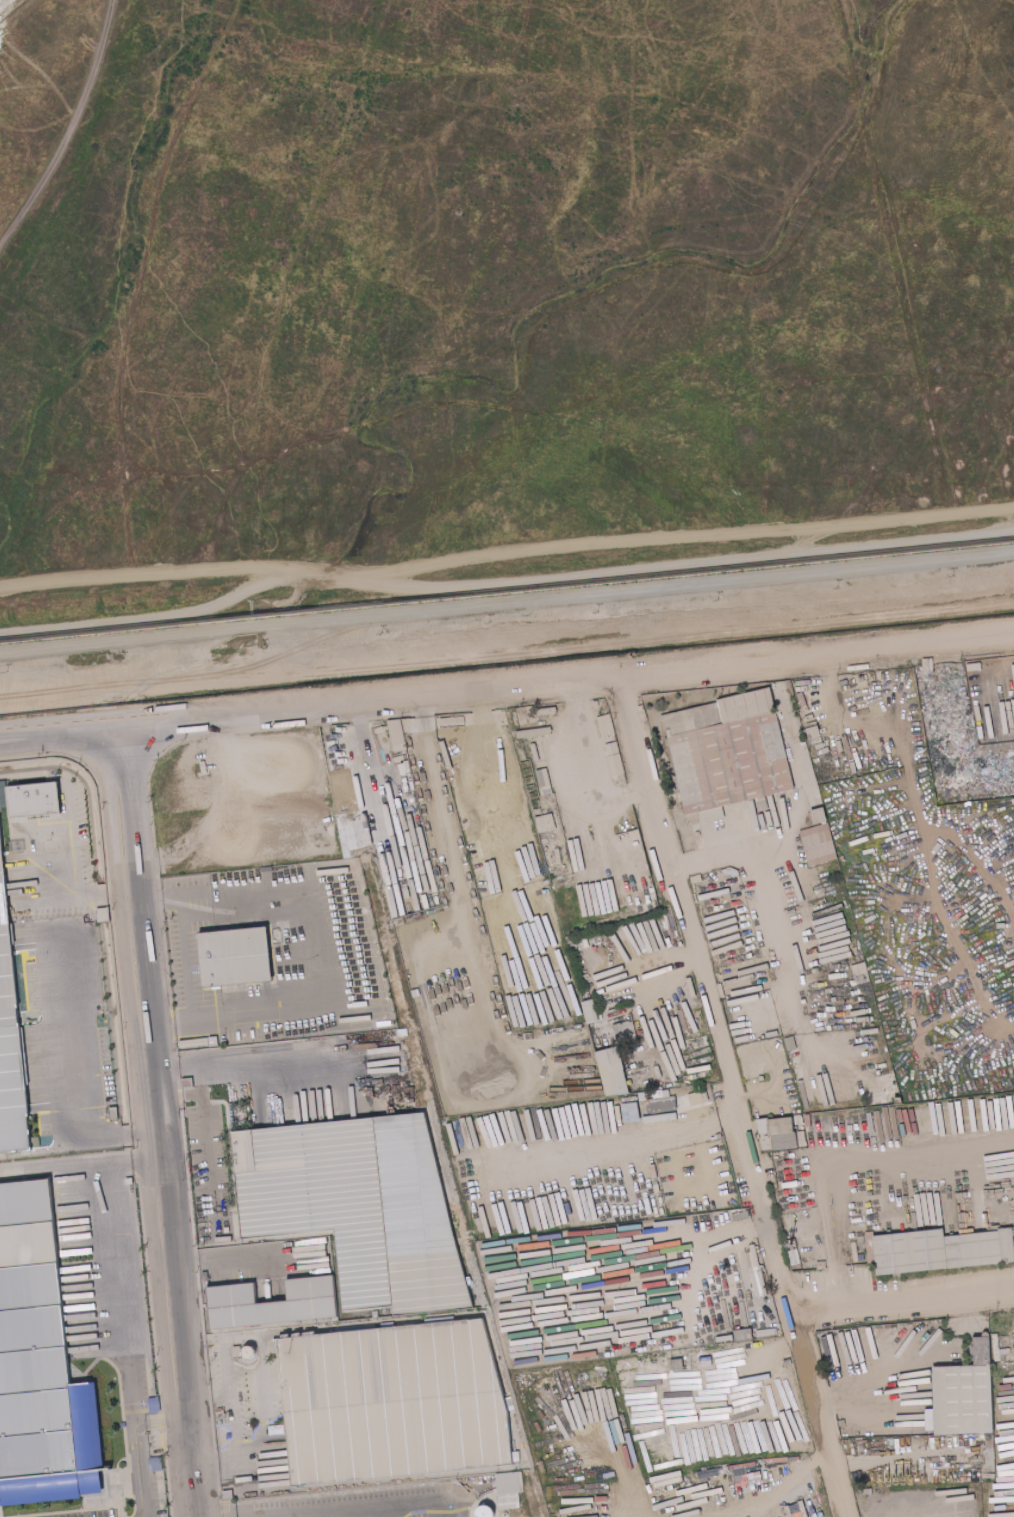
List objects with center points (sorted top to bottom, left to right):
road: (65, 130)
road: (462, 209)
road: (506, 553)
road: (670, 565)
road: (507, 599)
road: (166, 616)
road: (507, 651)
road: (572, 681)
road: (65, 736)
building: (401, 755)
building: (729, 780)
building: (530, 784)
building: (413, 798)
building: (35, 800)
building: (762, 803)
road: (137, 813)
building: (714, 813)
building: (539, 815)
building: (819, 815)
building: (546, 823)
building: (622, 827)
building: (698, 833)
building: (445, 838)
building: (819, 844)
road: (46, 854)
road: (71, 866)
building: (267, 868)
road: (232, 894)
road: (152, 897)
building: (793, 910)
building: (104, 913)
building: (598, 938)
building: (579, 941)
road: (310, 949)
building: (236, 954)
parking lot: (184, 957)
road: (187, 959)
building: (405, 959)
building: (861, 973)
building: (852, 982)
road: (706, 994)
building: (776, 994)
building: (591, 1011)
building: (41, 1013)
building: (621, 1014)
road: (245, 1015)
building: (600, 1015)
building: (10, 1025)
road: (150, 1025)
building: (626, 1032)
building: (818, 1034)
building: (213, 1041)
building: (791, 1043)
road: (79, 1065)
road: (250, 1067)
building: (772, 1067)
road: (187, 1071)
building: (613, 1071)
road: (155, 1073)
building: (186, 1083)
building: (703, 1095)
building: (898, 1100)
building: (663, 1104)
building: (309, 1110)
building: (115, 1113)
road: (138, 1125)
building: (796, 1128)
building: (783, 1133)
building: (766, 1135)
building: (758, 1136)
building: (33, 1147)
road: (206, 1150)
building: (778, 1153)
road: (51, 1169)
parking lot: (203, 1169)
building: (130, 1180)
building: (132, 1186)
building: (359, 1206)
road: (171, 1207)
building: (722, 1213)
building: (938, 1250)
road: (247, 1261)
road: (176, 1270)
building: (206, 1274)
building: (272, 1303)
road: (117, 1310)
building: (743, 1335)
building: (42, 1357)
building: (683, 1364)
parking lot: (243, 1382)
building: (962, 1396)
building: (390, 1400)
building: (510, 1487)
parking lot: (387, 1500)

